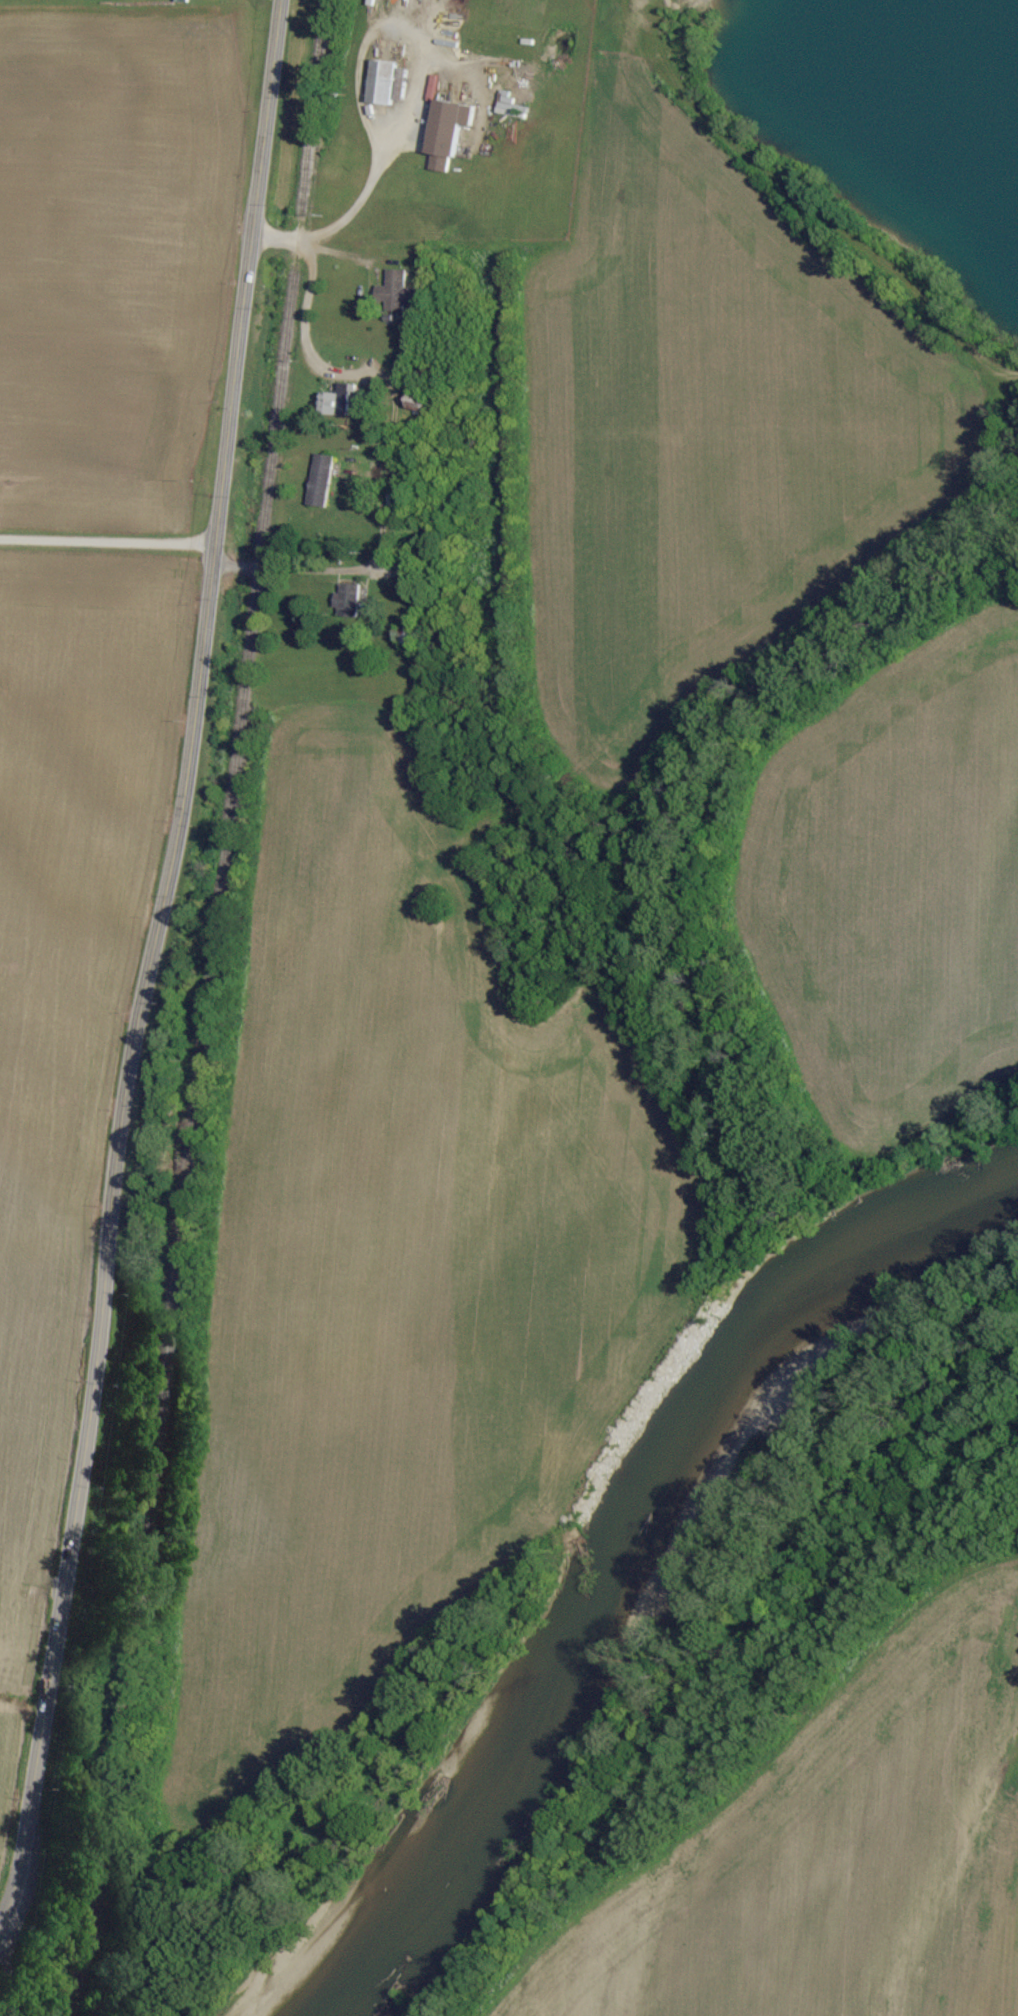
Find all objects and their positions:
road: (417, 73)
building: (382, 82)
building: (509, 107)
building: (445, 132)
building: (396, 291)
building: (339, 400)
road: (393, 426)
building: (319, 480)
road: (106, 540)
road: (147, 962)
railway: (207, 1010)
river: (642, 1571)

